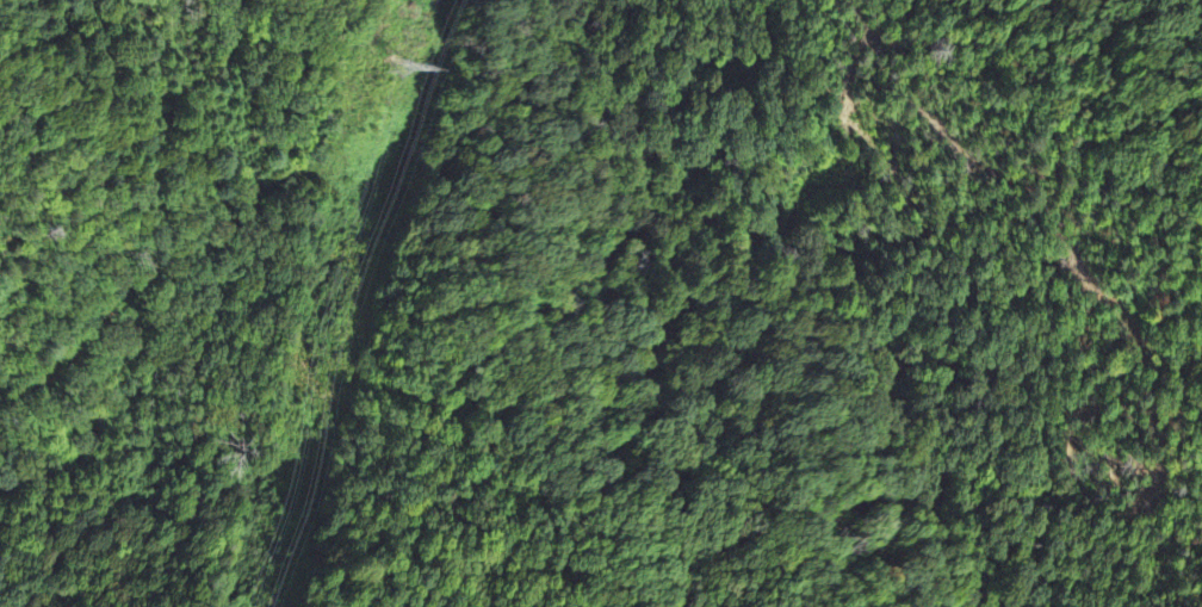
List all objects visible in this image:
power tower: (383, 66)

